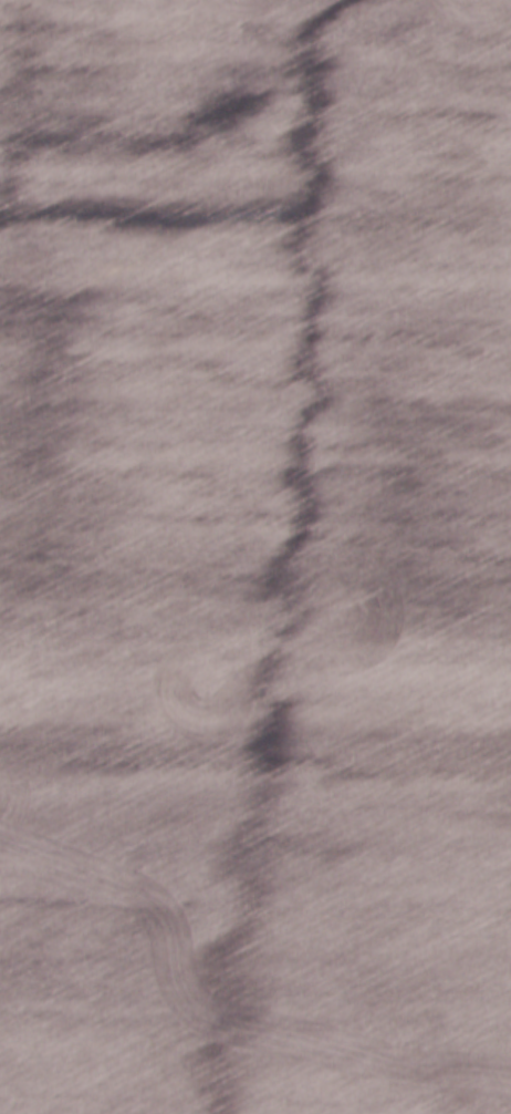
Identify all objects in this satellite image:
crop: (255, 557)

